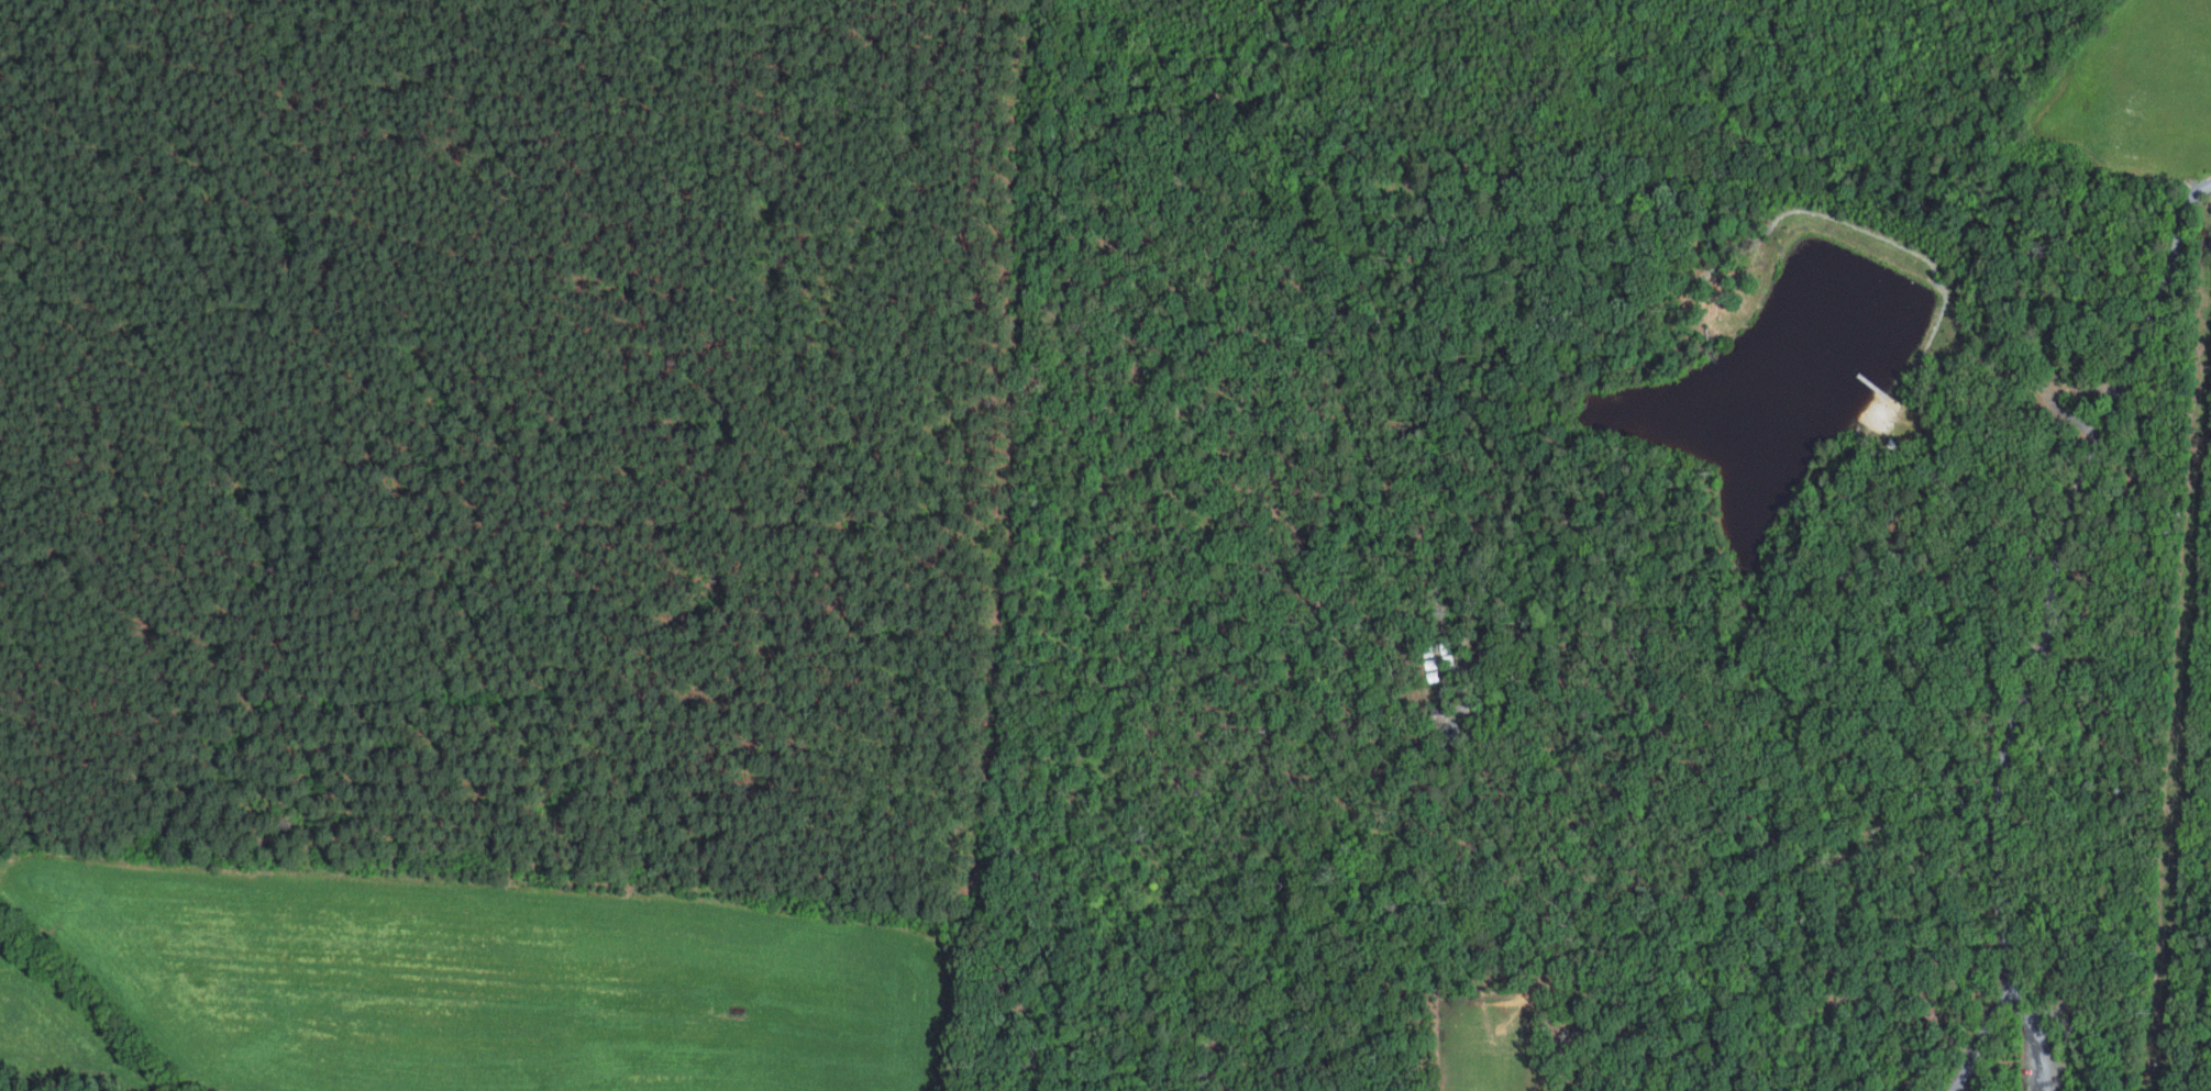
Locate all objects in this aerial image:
road: (2047, 630)
road: (2033, 1028)

